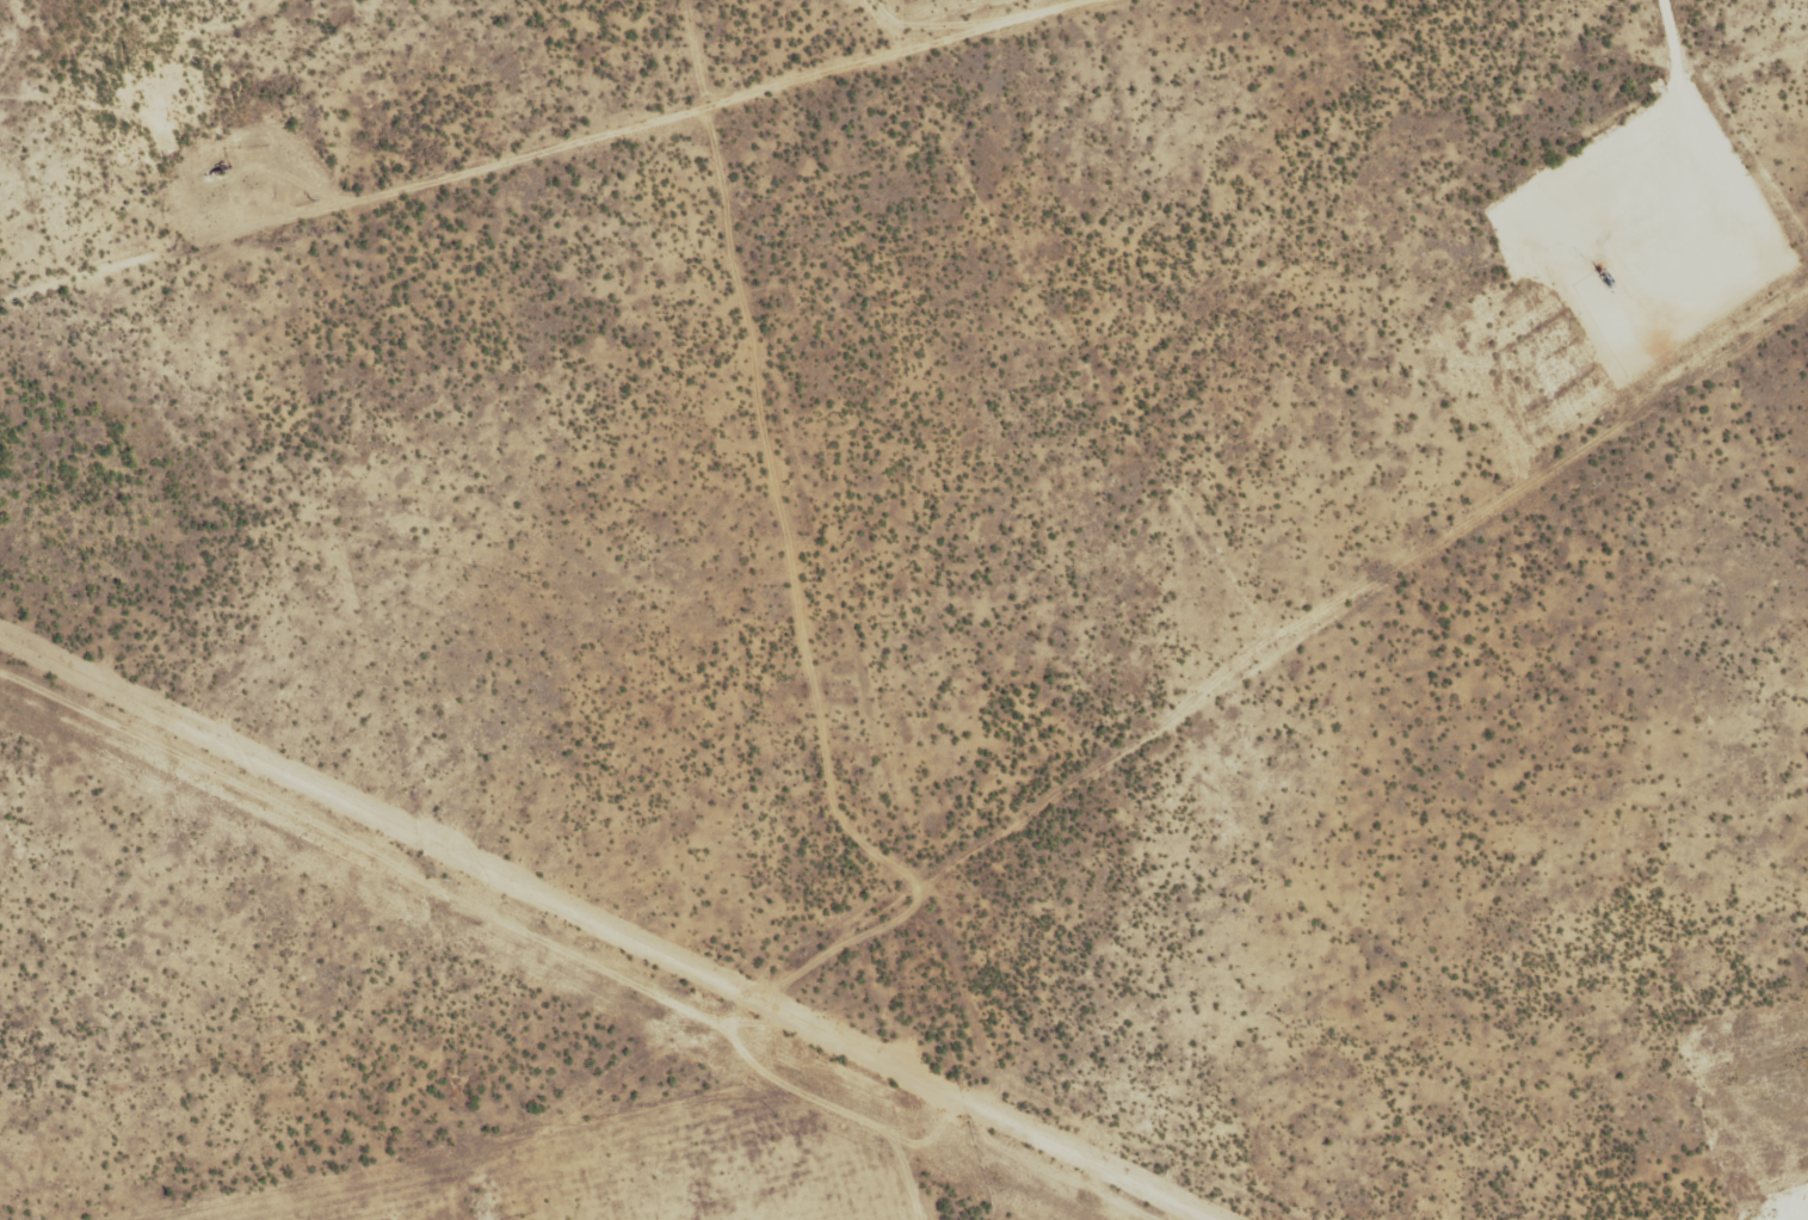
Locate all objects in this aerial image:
road: (807, 121)

